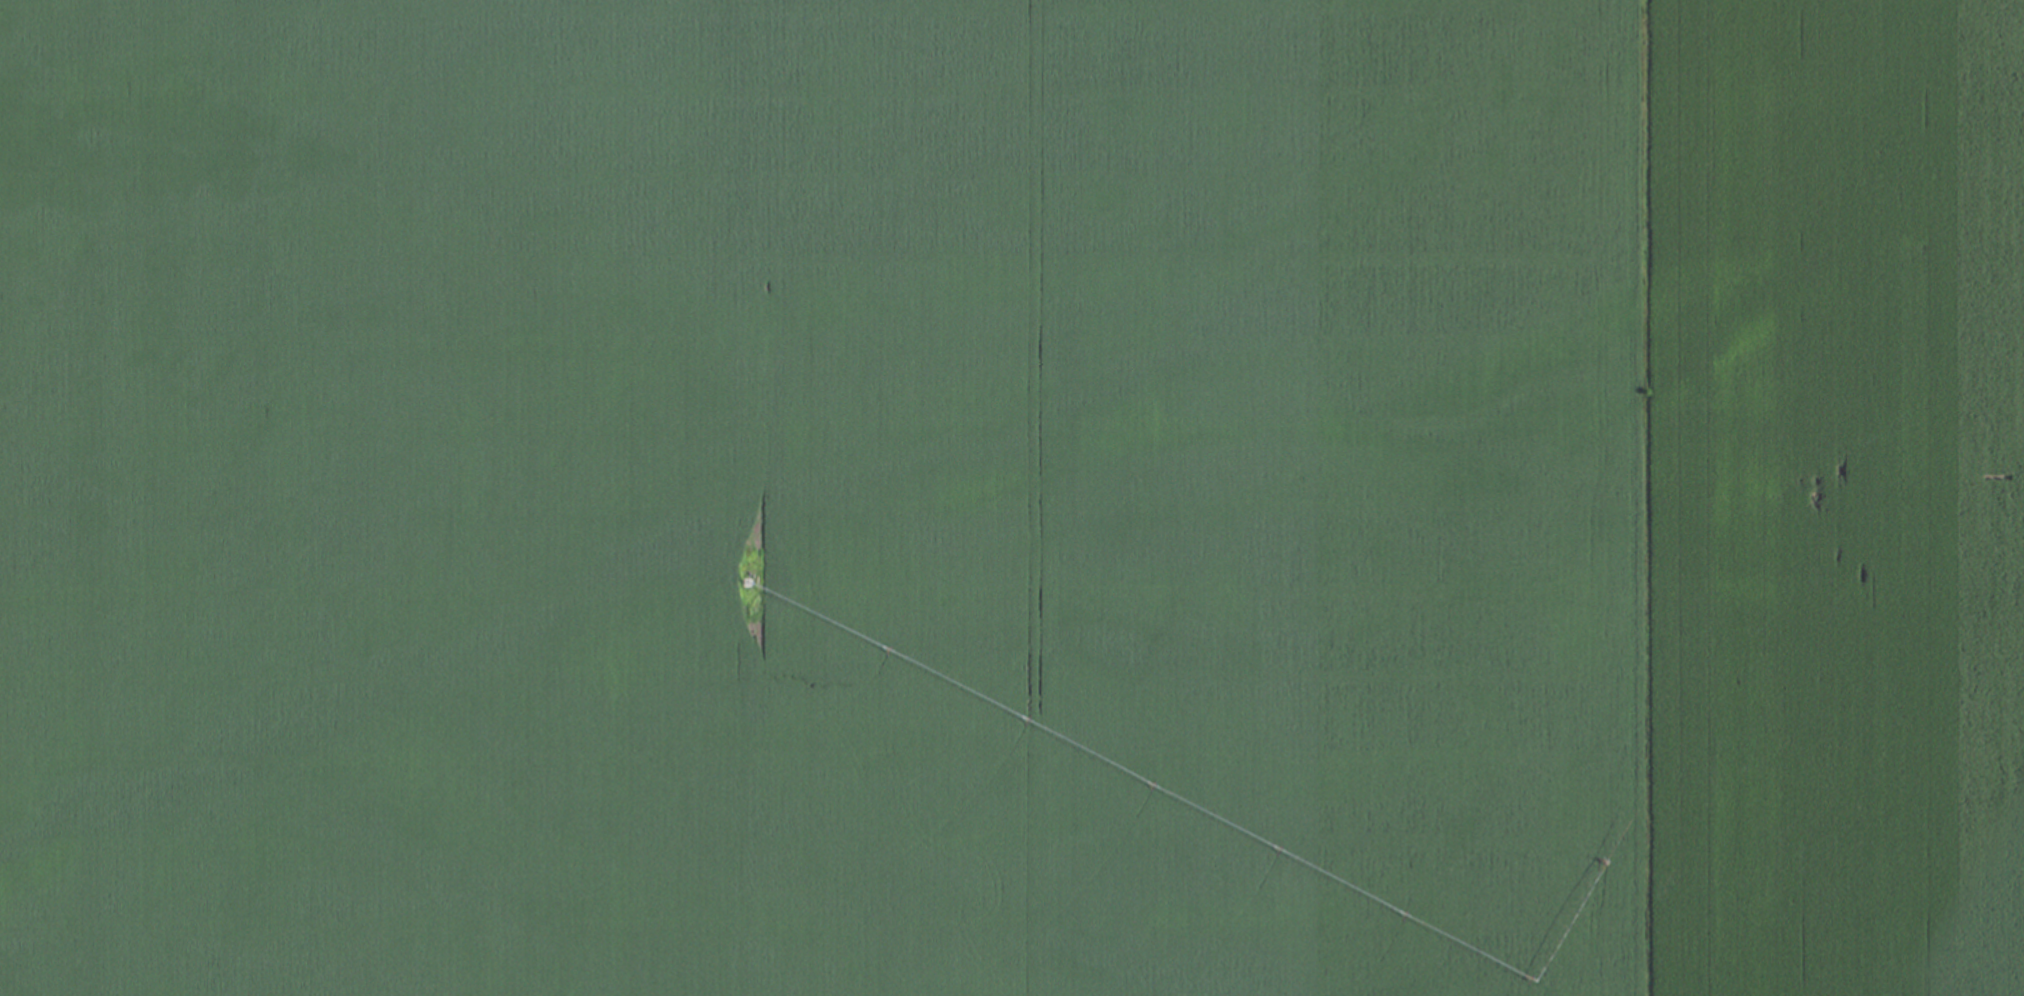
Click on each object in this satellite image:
crop: (819, 498)
crop: (1831, 498)

